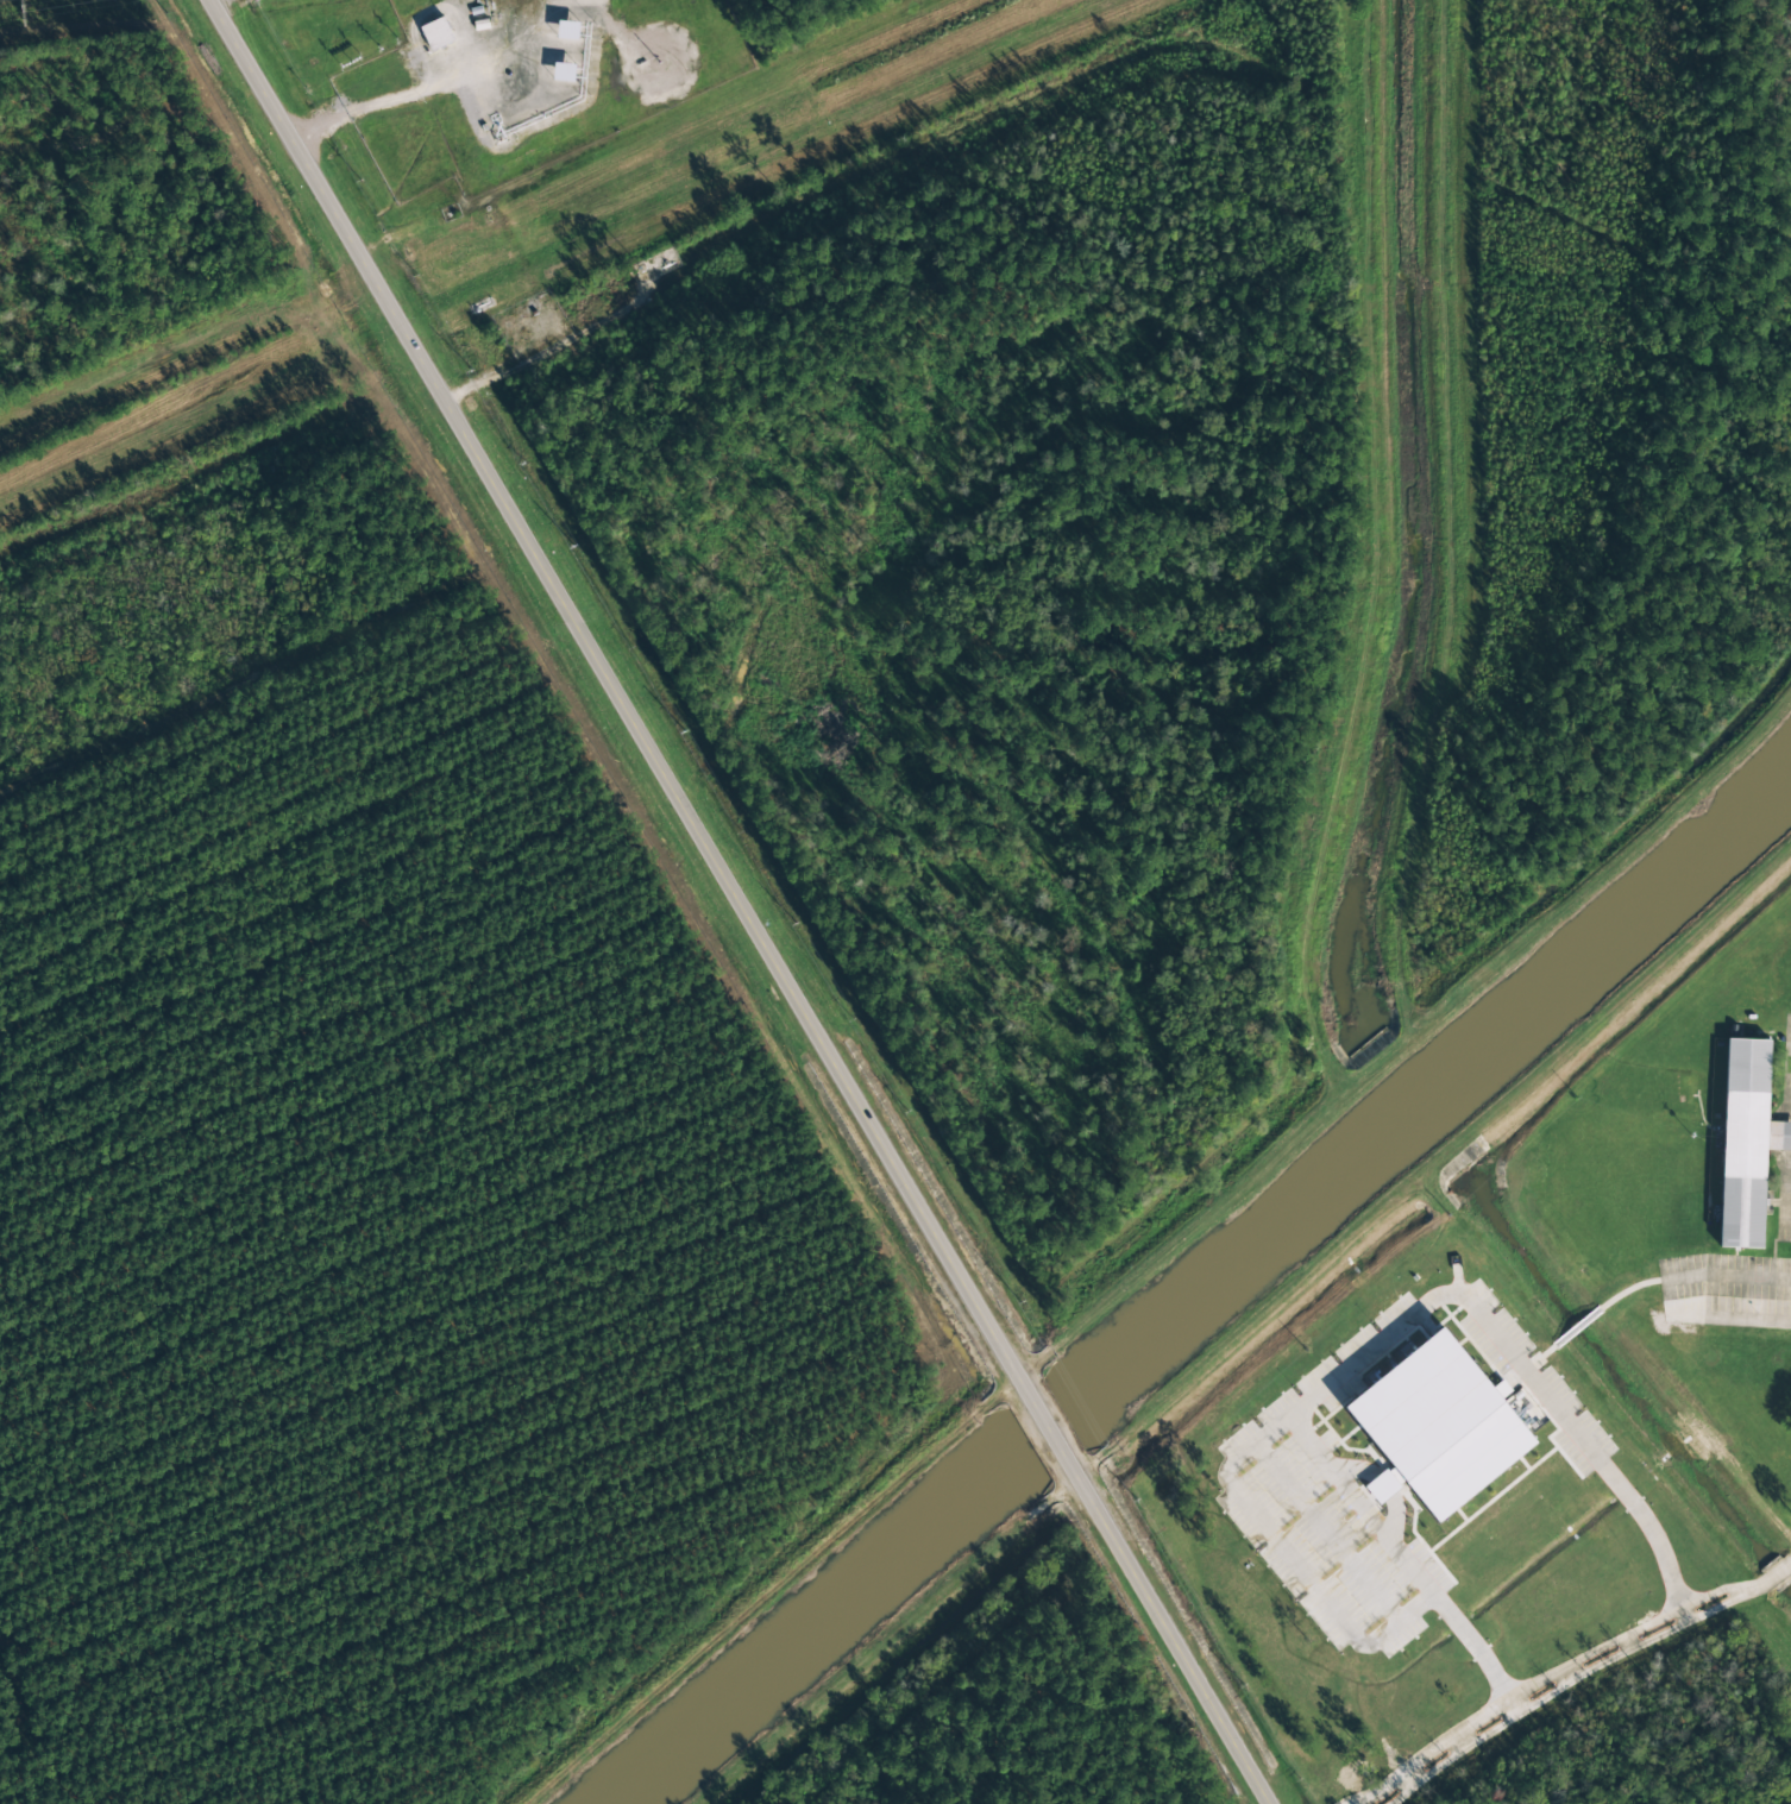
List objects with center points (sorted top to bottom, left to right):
power tower: (39, 13)
building: (436, 33)
road: (616, 693)
road: (1790, 1038)
road: (1786, 1105)
road: (1785, 1134)
building: (1746, 1143)
road: (1784, 1190)
road: (1729, 1275)
building: (1439, 1425)
road: (1050, 1432)
building: (1382, 1486)
road: (1171, 1640)

